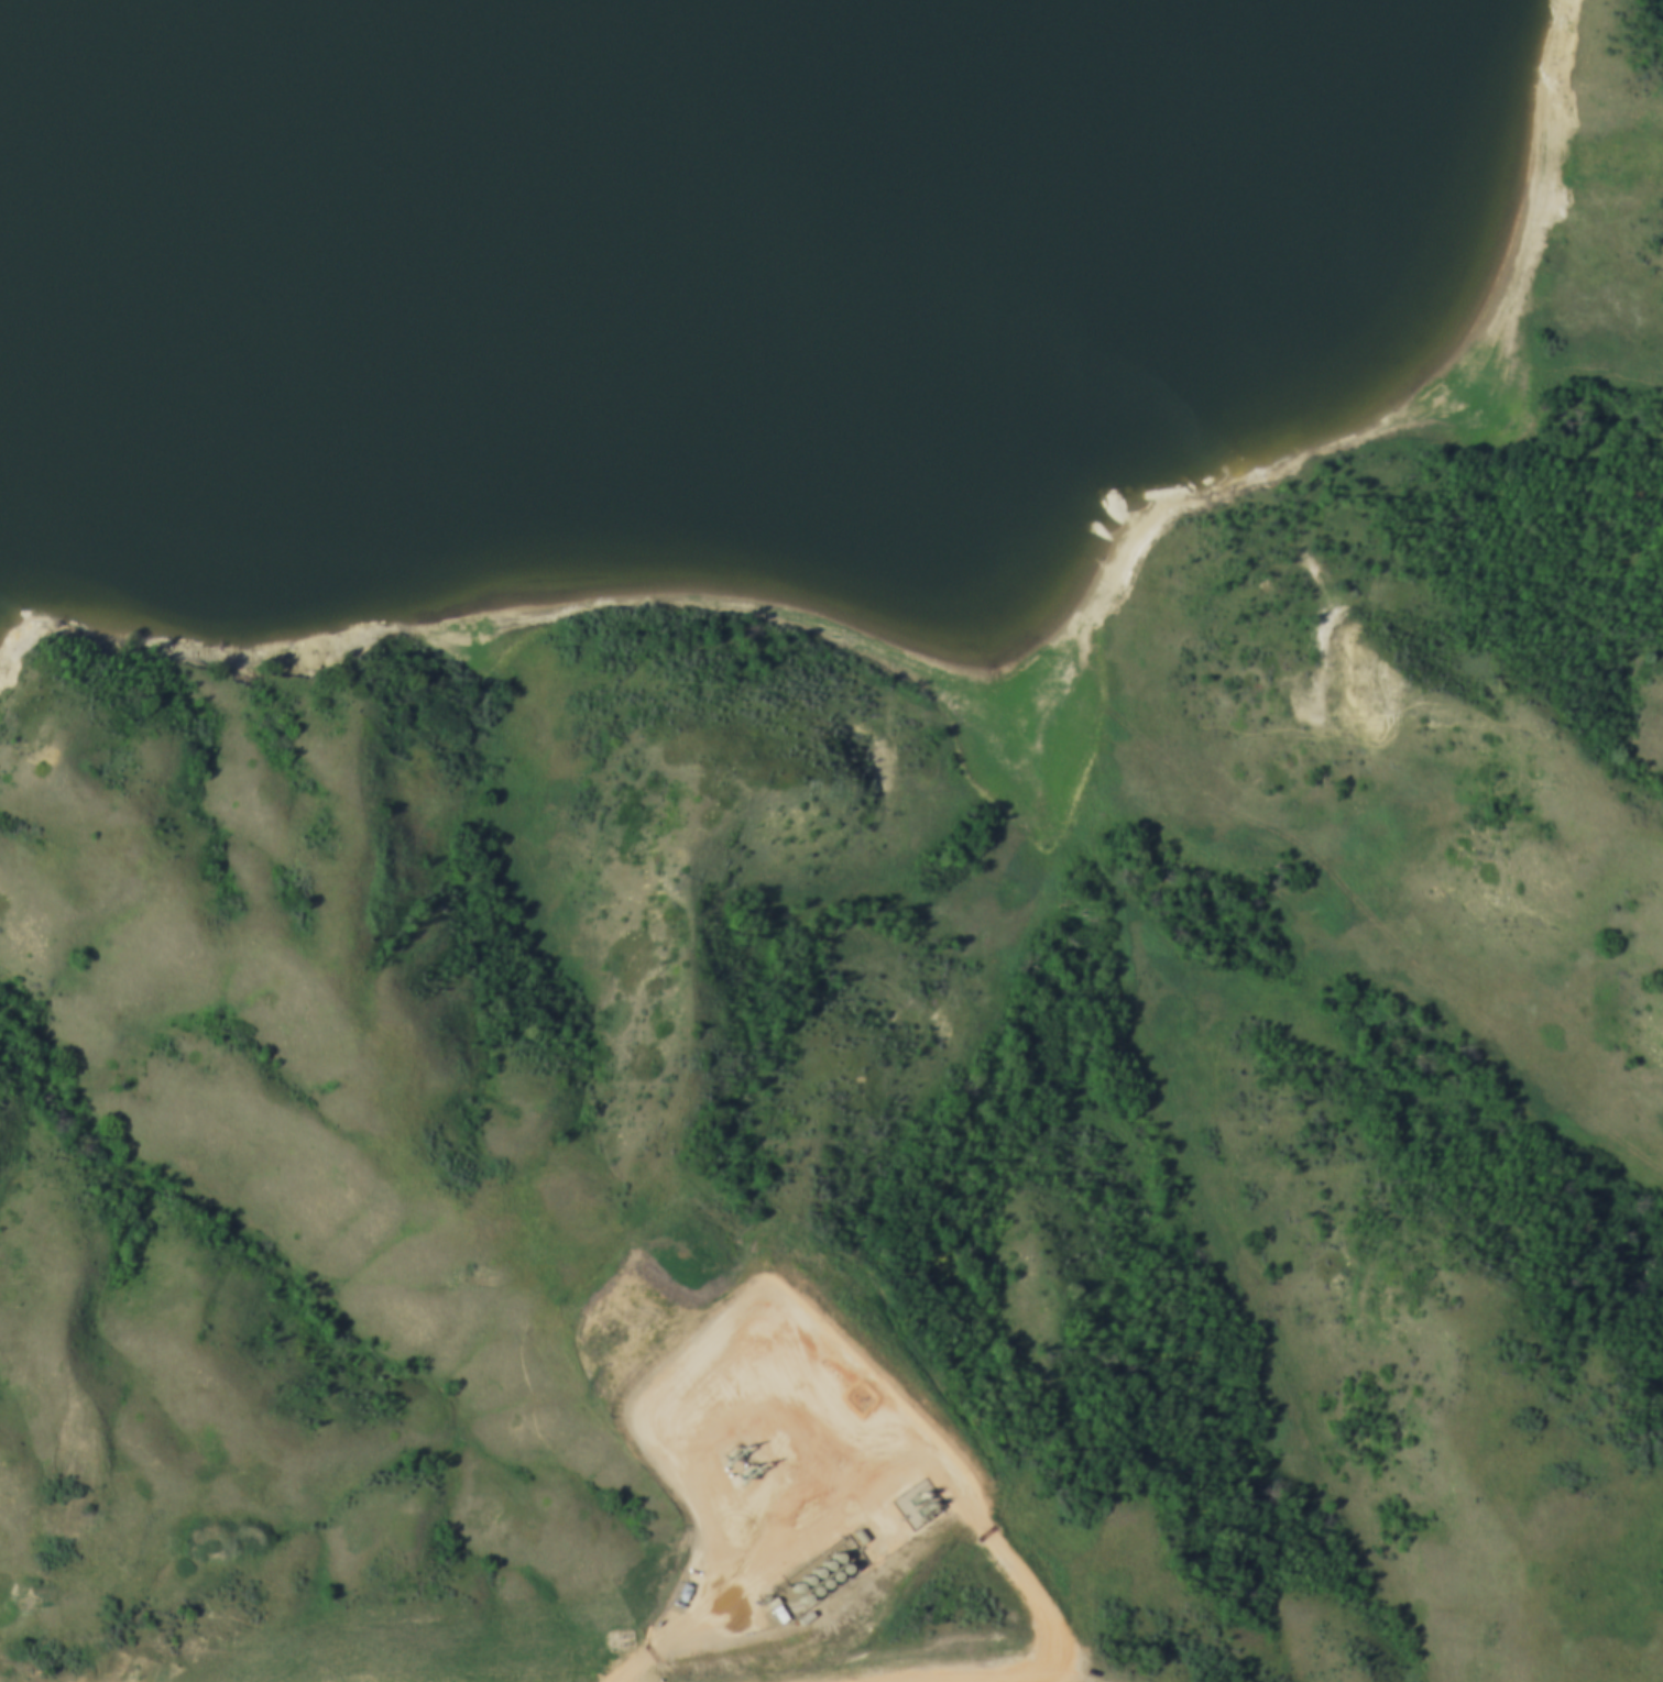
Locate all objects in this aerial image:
building: (835, 1551)
storage tank: (835, 1551)
building: (825, 1559)
storage tank: (825, 1559)
building: (843, 1563)
storage tank: (843, 1563)
building: (816, 1566)
storage tank: (816, 1566)
building: (832, 1571)
storage tank: (832, 1571)
building: (805, 1573)
storage tank: (805, 1573)
building: (822, 1579)
storage tank: (822, 1579)
building: (795, 1581)
storage tank: (795, 1581)
building: (813, 1585)
storage tank: (813, 1585)
road: (1002, 1585)
building: (803, 1593)
storage tank: (803, 1593)
road: (962, 1675)
road: (1062, 1675)

